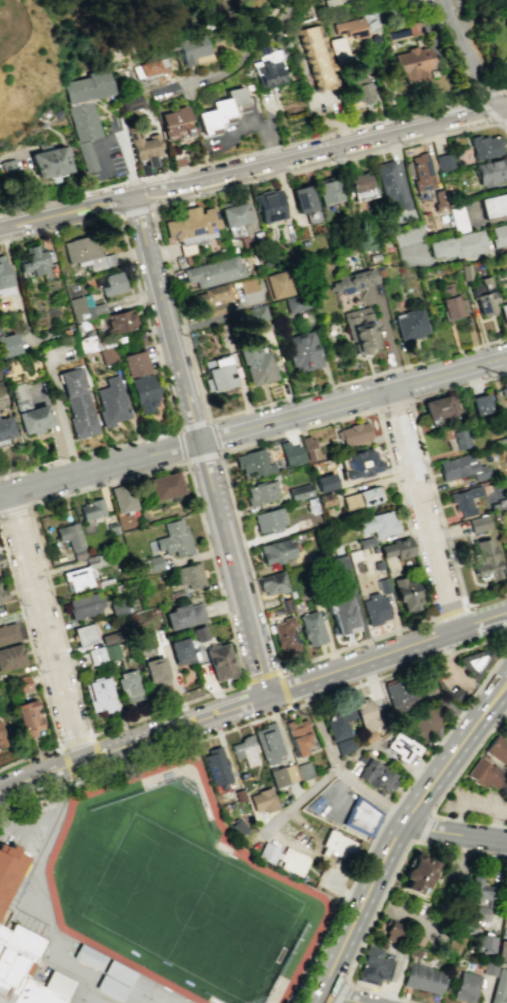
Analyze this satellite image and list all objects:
road: (439, 0)
road: (441, 0)
building: (506, 15)
building: (415, 26)
building: (352, 28)
building: (190, 47)
building: (339, 50)
road: (467, 56)
building: (317, 57)
building: (414, 63)
road: (238, 64)
building: (151, 68)
building: (269, 68)
building: (91, 86)
road: (505, 88)
building: (361, 89)
road: (477, 100)
building: (133, 102)
building: (222, 113)
building: (85, 120)
building: (176, 122)
road: (251, 122)
road: (376, 122)
road: (390, 132)
road: (99, 144)
road: (400, 144)
building: (144, 147)
building: (486, 147)
road: (270, 148)
road: (19, 154)
building: (87, 155)
road: (321, 160)
building: (49, 161)
building: (445, 161)
road: (200, 164)
building: (8, 165)
road: (129, 167)
building: (422, 171)
building: (491, 173)
road: (279, 174)
road: (203, 177)
road: (133, 180)
building: (361, 182)
building: (394, 184)
building: (328, 190)
road: (62, 197)
road: (284, 197)
building: (302, 199)
building: (439, 199)
building: (268, 204)
road: (151, 205)
road: (147, 206)
building: (495, 207)
road: (66, 213)
road: (293, 216)
building: (233, 217)
building: (458, 219)
building: (191, 223)
parking lot: (407, 233)
building: (500, 236)
building: (458, 244)
building: (88, 254)
road: (452, 259)
building: (33, 262)
building: (214, 272)
building: (4, 279)
building: (353, 281)
building: (111, 283)
road: (14, 285)
building: (248, 285)
building: (277, 285)
building: (483, 295)
building: (215, 301)
building: (296, 302)
building: (449, 302)
building: (79, 310)
building: (503, 312)
building: (256, 313)
road: (216, 318)
road: (164, 319)
building: (120, 321)
building: (410, 324)
building: (359, 327)
road: (183, 328)
building: (8, 346)
building: (303, 352)
building: (110, 356)
building: (137, 365)
building: (257, 367)
building: (219, 374)
building: (72, 383)
road: (315, 390)
building: (504, 390)
building: (144, 394)
road: (352, 402)
building: (112, 403)
road: (392, 404)
building: (479, 404)
building: (439, 406)
road: (171, 410)
building: (81, 416)
building: (502, 417)
building: (33, 420)
road: (193, 424)
building: (5, 429)
road: (294, 431)
building: (353, 433)
building: (458, 439)
building: (307, 442)
building: (290, 453)
road: (423, 455)
road: (201, 457)
building: (253, 463)
building: (359, 464)
building: (456, 467)
road: (98, 469)
building: (480, 472)
building: (325, 482)
road: (106, 483)
building: (165, 486)
building: (299, 492)
building: (260, 493)
building: (361, 497)
building: (463, 497)
building: (122, 498)
building: (325, 499)
building: (496, 502)
road: (13, 508)
building: (91, 509)
road: (424, 511)
building: (467, 511)
building: (268, 520)
building: (478, 523)
building: (378, 524)
building: (111, 528)
building: (68, 535)
building: (174, 538)
building: (364, 542)
building: (402, 547)
building: (386, 550)
building: (276, 551)
building: (485, 560)
building: (151, 563)
road: (233, 568)
building: (187, 575)
building: (77, 578)
building: (272, 583)
building: (382, 585)
building: (406, 592)
building: (2, 594)
road: (486, 600)
building: (285, 605)
building: (83, 606)
building: (117, 608)
building: (375, 610)
road: (449, 613)
building: (183, 615)
building: (341, 616)
road: (59, 622)
road: (46, 626)
road: (467, 627)
building: (311, 628)
building: (283, 630)
building: (7, 633)
building: (197, 633)
building: (83, 634)
building: (108, 638)
road: (29, 642)
road: (356, 645)
building: (180, 651)
building: (102, 653)
building: (10, 656)
building: (479, 660)
building: (220, 661)
road: (414, 665)
road: (348, 669)
building: (155, 670)
road: (261, 676)
building: (25, 681)
building: (128, 685)
road: (283, 690)
building: (98, 694)
building: (400, 694)
road: (165, 709)
building: (29, 714)
building: (365, 714)
building: (427, 724)
road: (451, 726)
building: (339, 730)
building: (297, 735)
building: (2, 736)
road: (73, 741)
road: (133, 741)
building: (268, 743)
building: (402, 749)
building: (244, 750)
parking lot: (381, 751)
building: (496, 753)
road: (96, 754)
road: (160, 755)
road: (30, 756)
road: (467, 761)
road: (336, 765)
road: (64, 766)
building: (215, 766)
building: (303, 770)
road: (102, 772)
building: (485, 773)
building: (282, 774)
building: (382, 779)
road: (254, 781)
road: (68, 784)
road: (307, 798)
parking lot: (475, 799)
building: (262, 800)
road: (391, 810)
building: (362, 818)
road: (469, 820)
road: (379, 828)
road: (426, 828)
road: (455, 832)
road: (397, 834)
building: (339, 846)
road: (463, 848)
building: (283, 858)
building: (9, 867)
building: (419, 876)
building: (478, 889)
track: (177, 890)
park: (183, 896)
park: (191, 909)
building: (480, 912)
road: (332, 922)
building: (465, 924)
building: (392, 932)
road: (365, 938)
building: (483, 943)
building: (501, 951)
building: (373, 965)
building: (489, 968)
building: (25, 970)
building: (105, 973)
building: (423, 977)
building: (465, 987)
building: (499, 987)
park: (139, 990)
road: (342, 991)
park: (165, 997)
park: (96, 998)
road: (338, 999)

